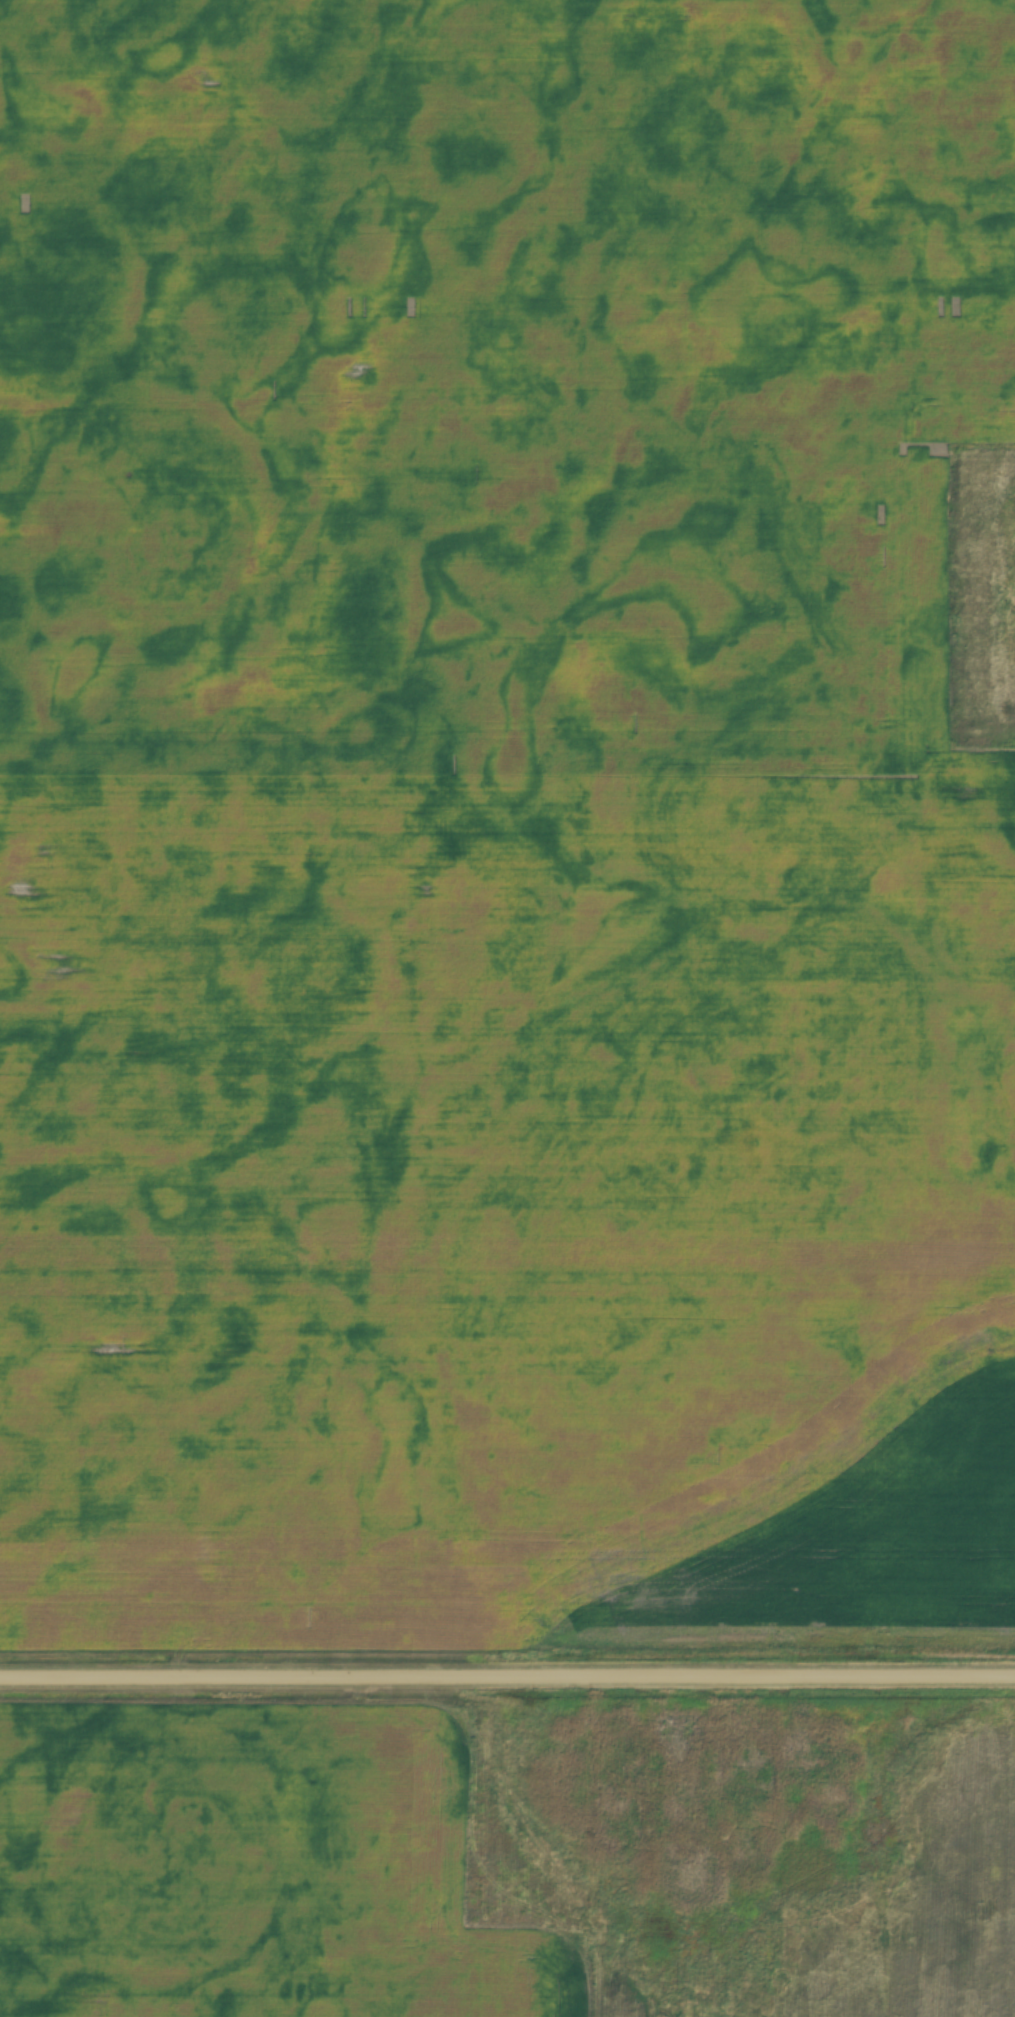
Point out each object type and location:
road: (507, 1674)

